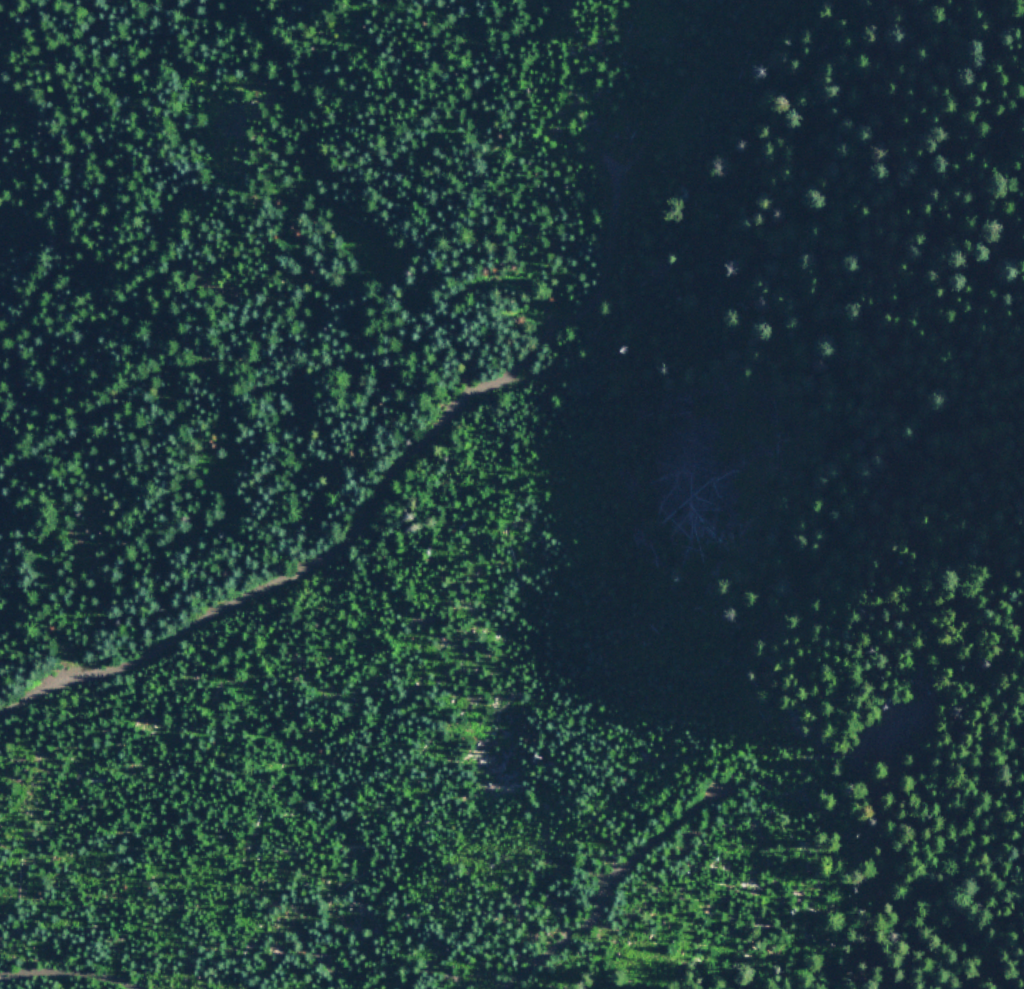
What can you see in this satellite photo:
road: (281, 588)

